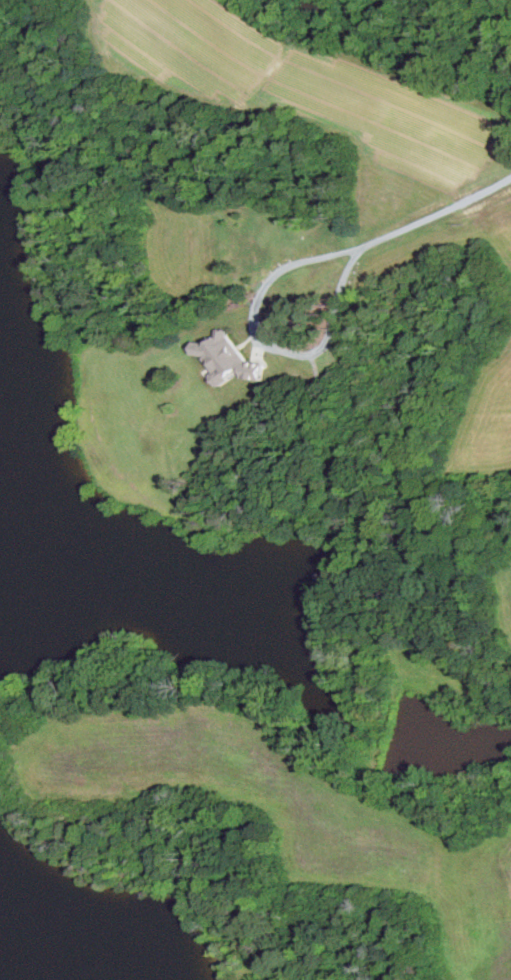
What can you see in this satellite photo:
road: (436, 214)
road: (266, 342)
building: (230, 359)

